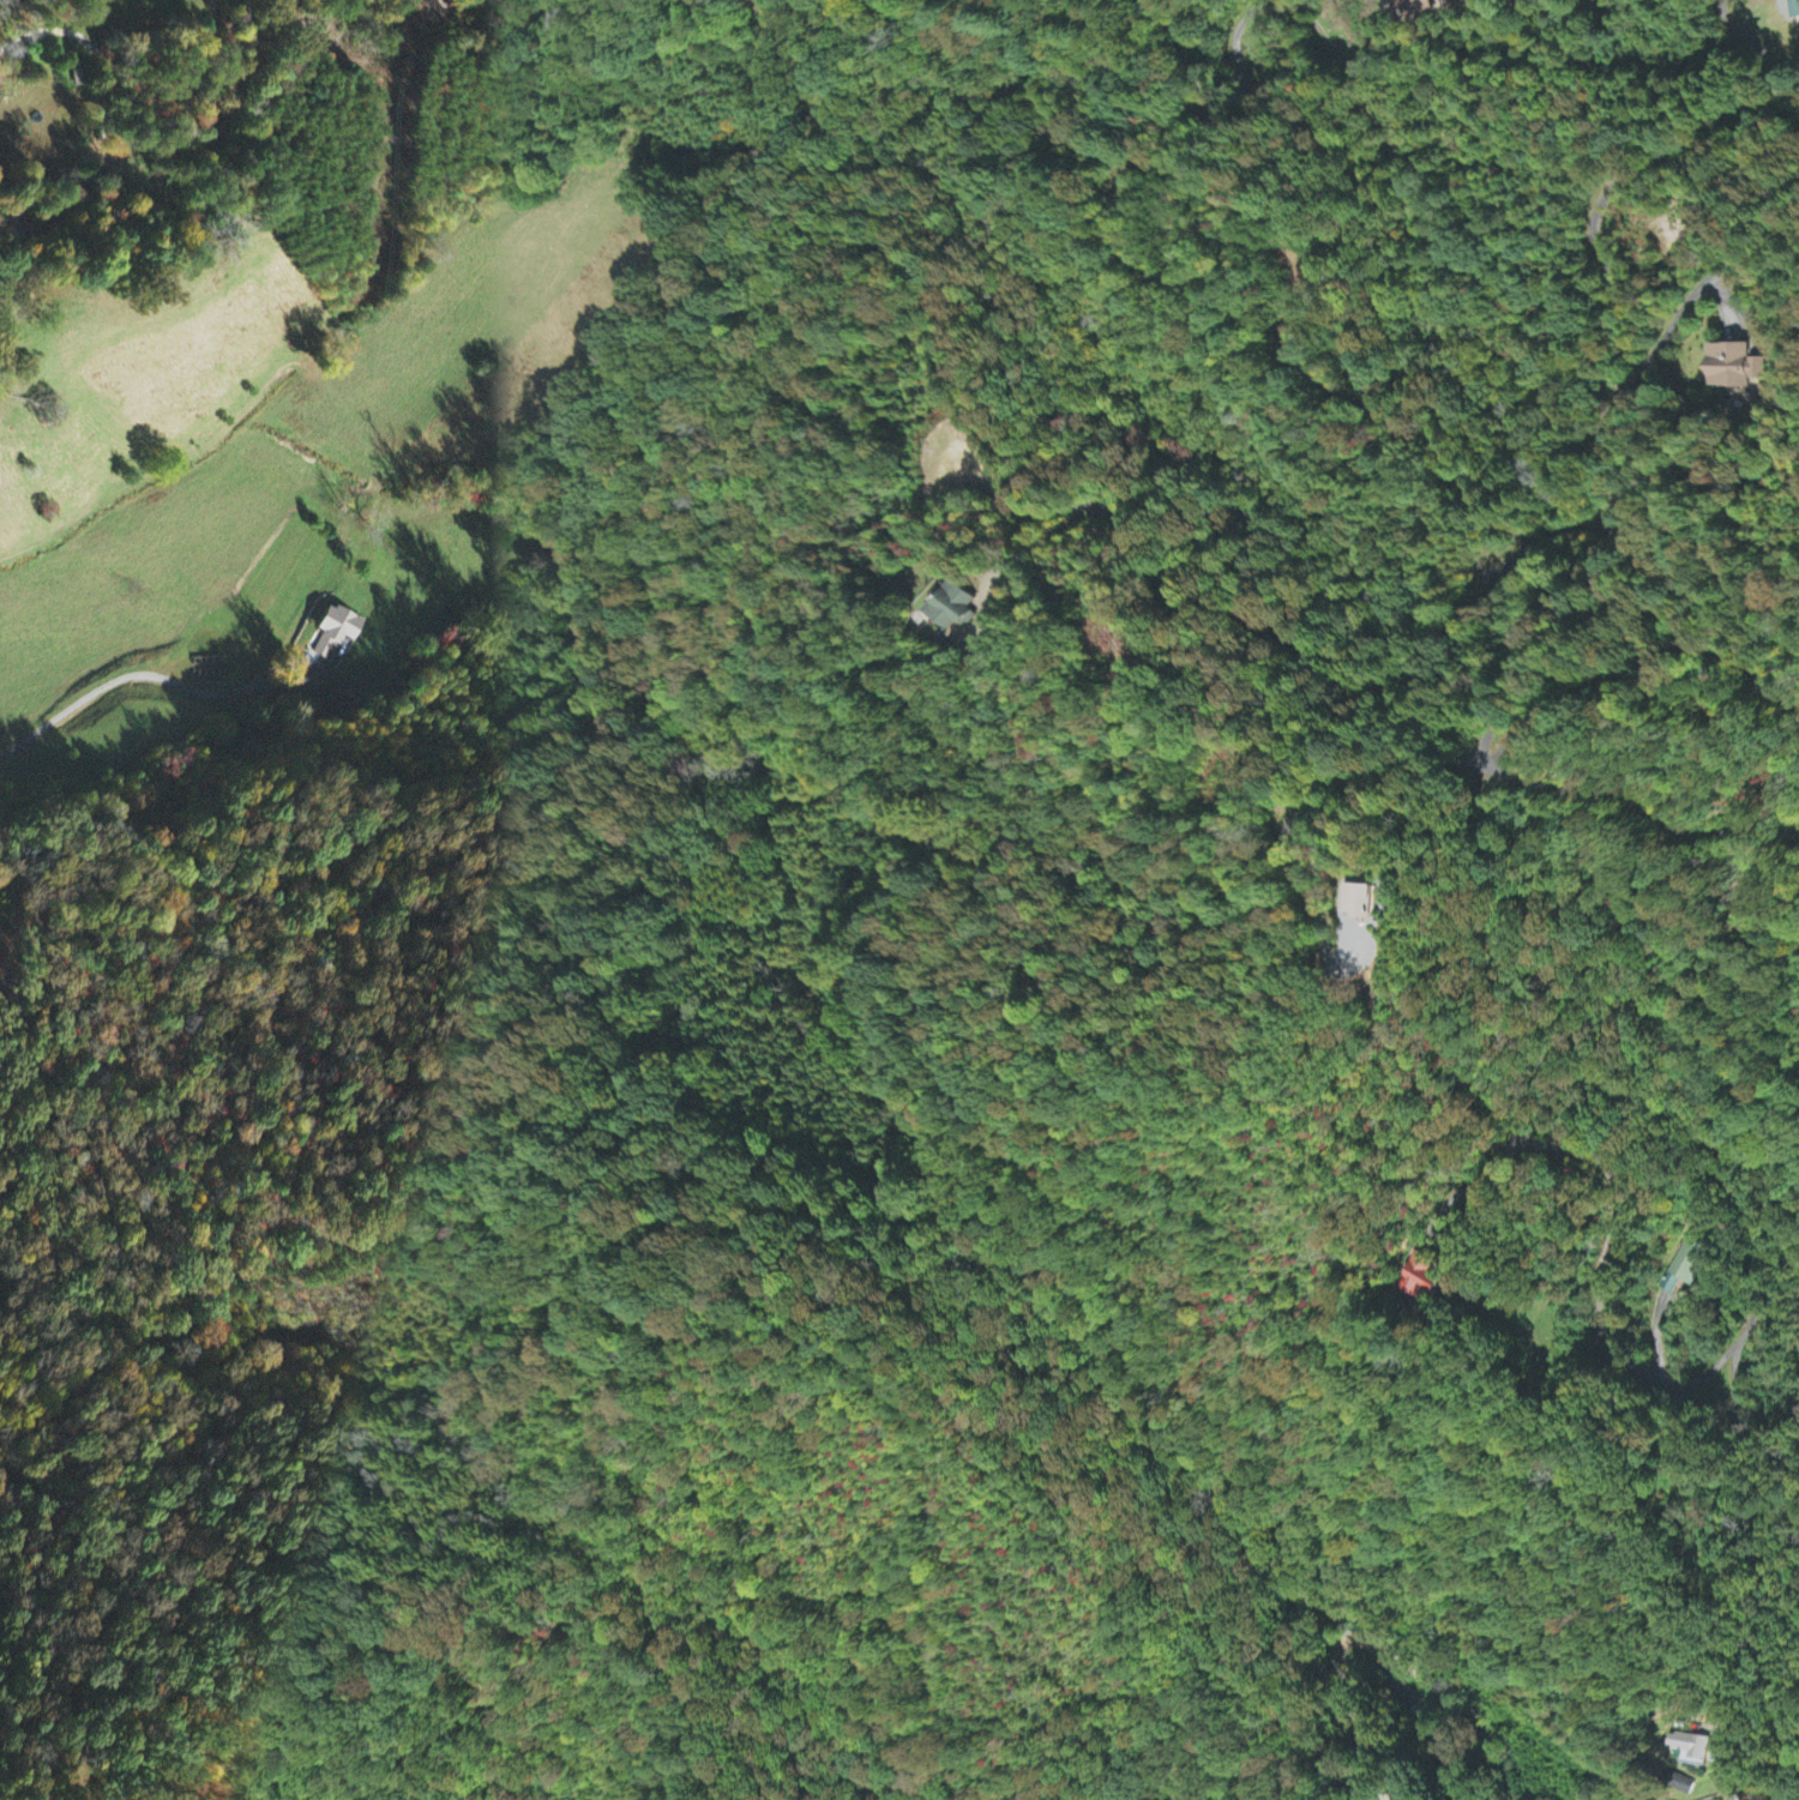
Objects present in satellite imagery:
building: (1419, 6)
building: (1795, 10)
building: (79, 76)
road: (140, 98)
building: (17, 225)
road: (1234, 311)
building: (1735, 368)
road: (1610, 510)
road: (1272, 620)
building: (337, 632)
road: (1617, 674)
road: (122, 676)
building: (1367, 895)
building: (1689, 1265)
building: (1421, 1277)
road: (1598, 1332)
building: (1691, 1750)

